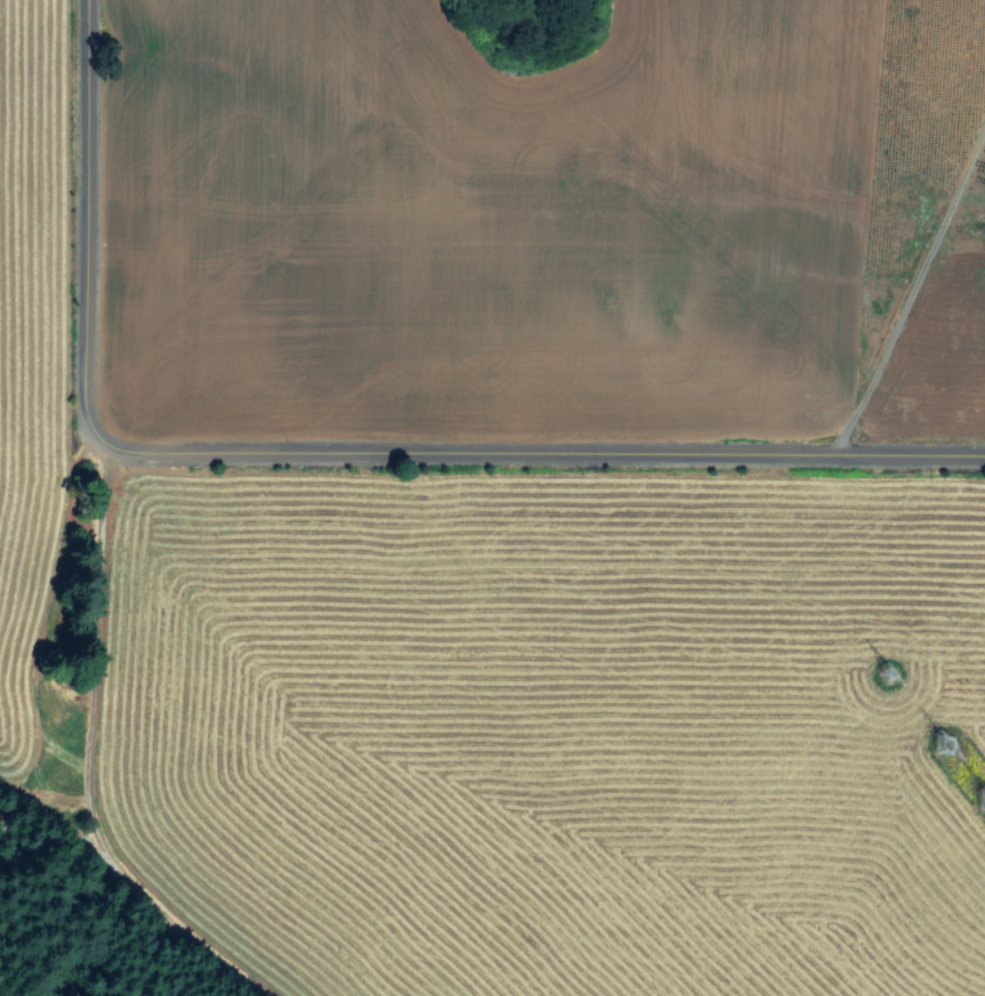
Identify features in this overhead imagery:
road: (312, 462)
crop: (499, 489)
power tower: (889, 676)
power tower: (949, 750)

